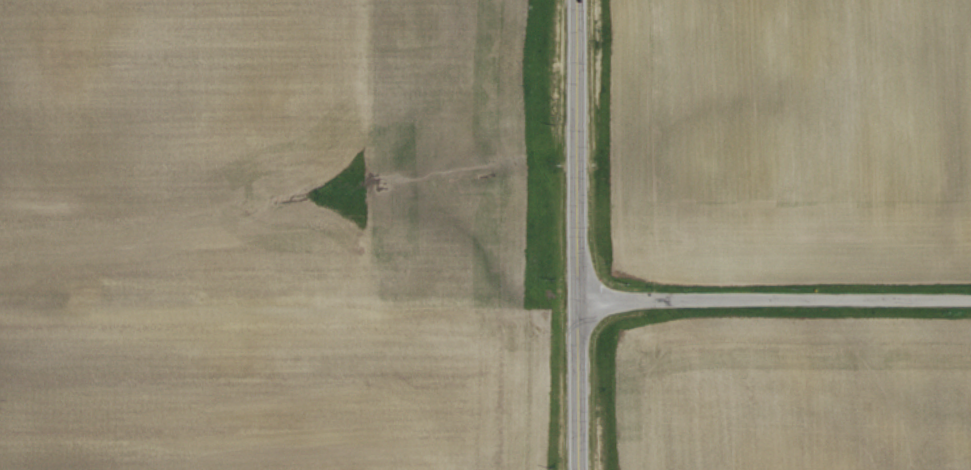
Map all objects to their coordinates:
road: (575, 235)
road: (774, 303)

